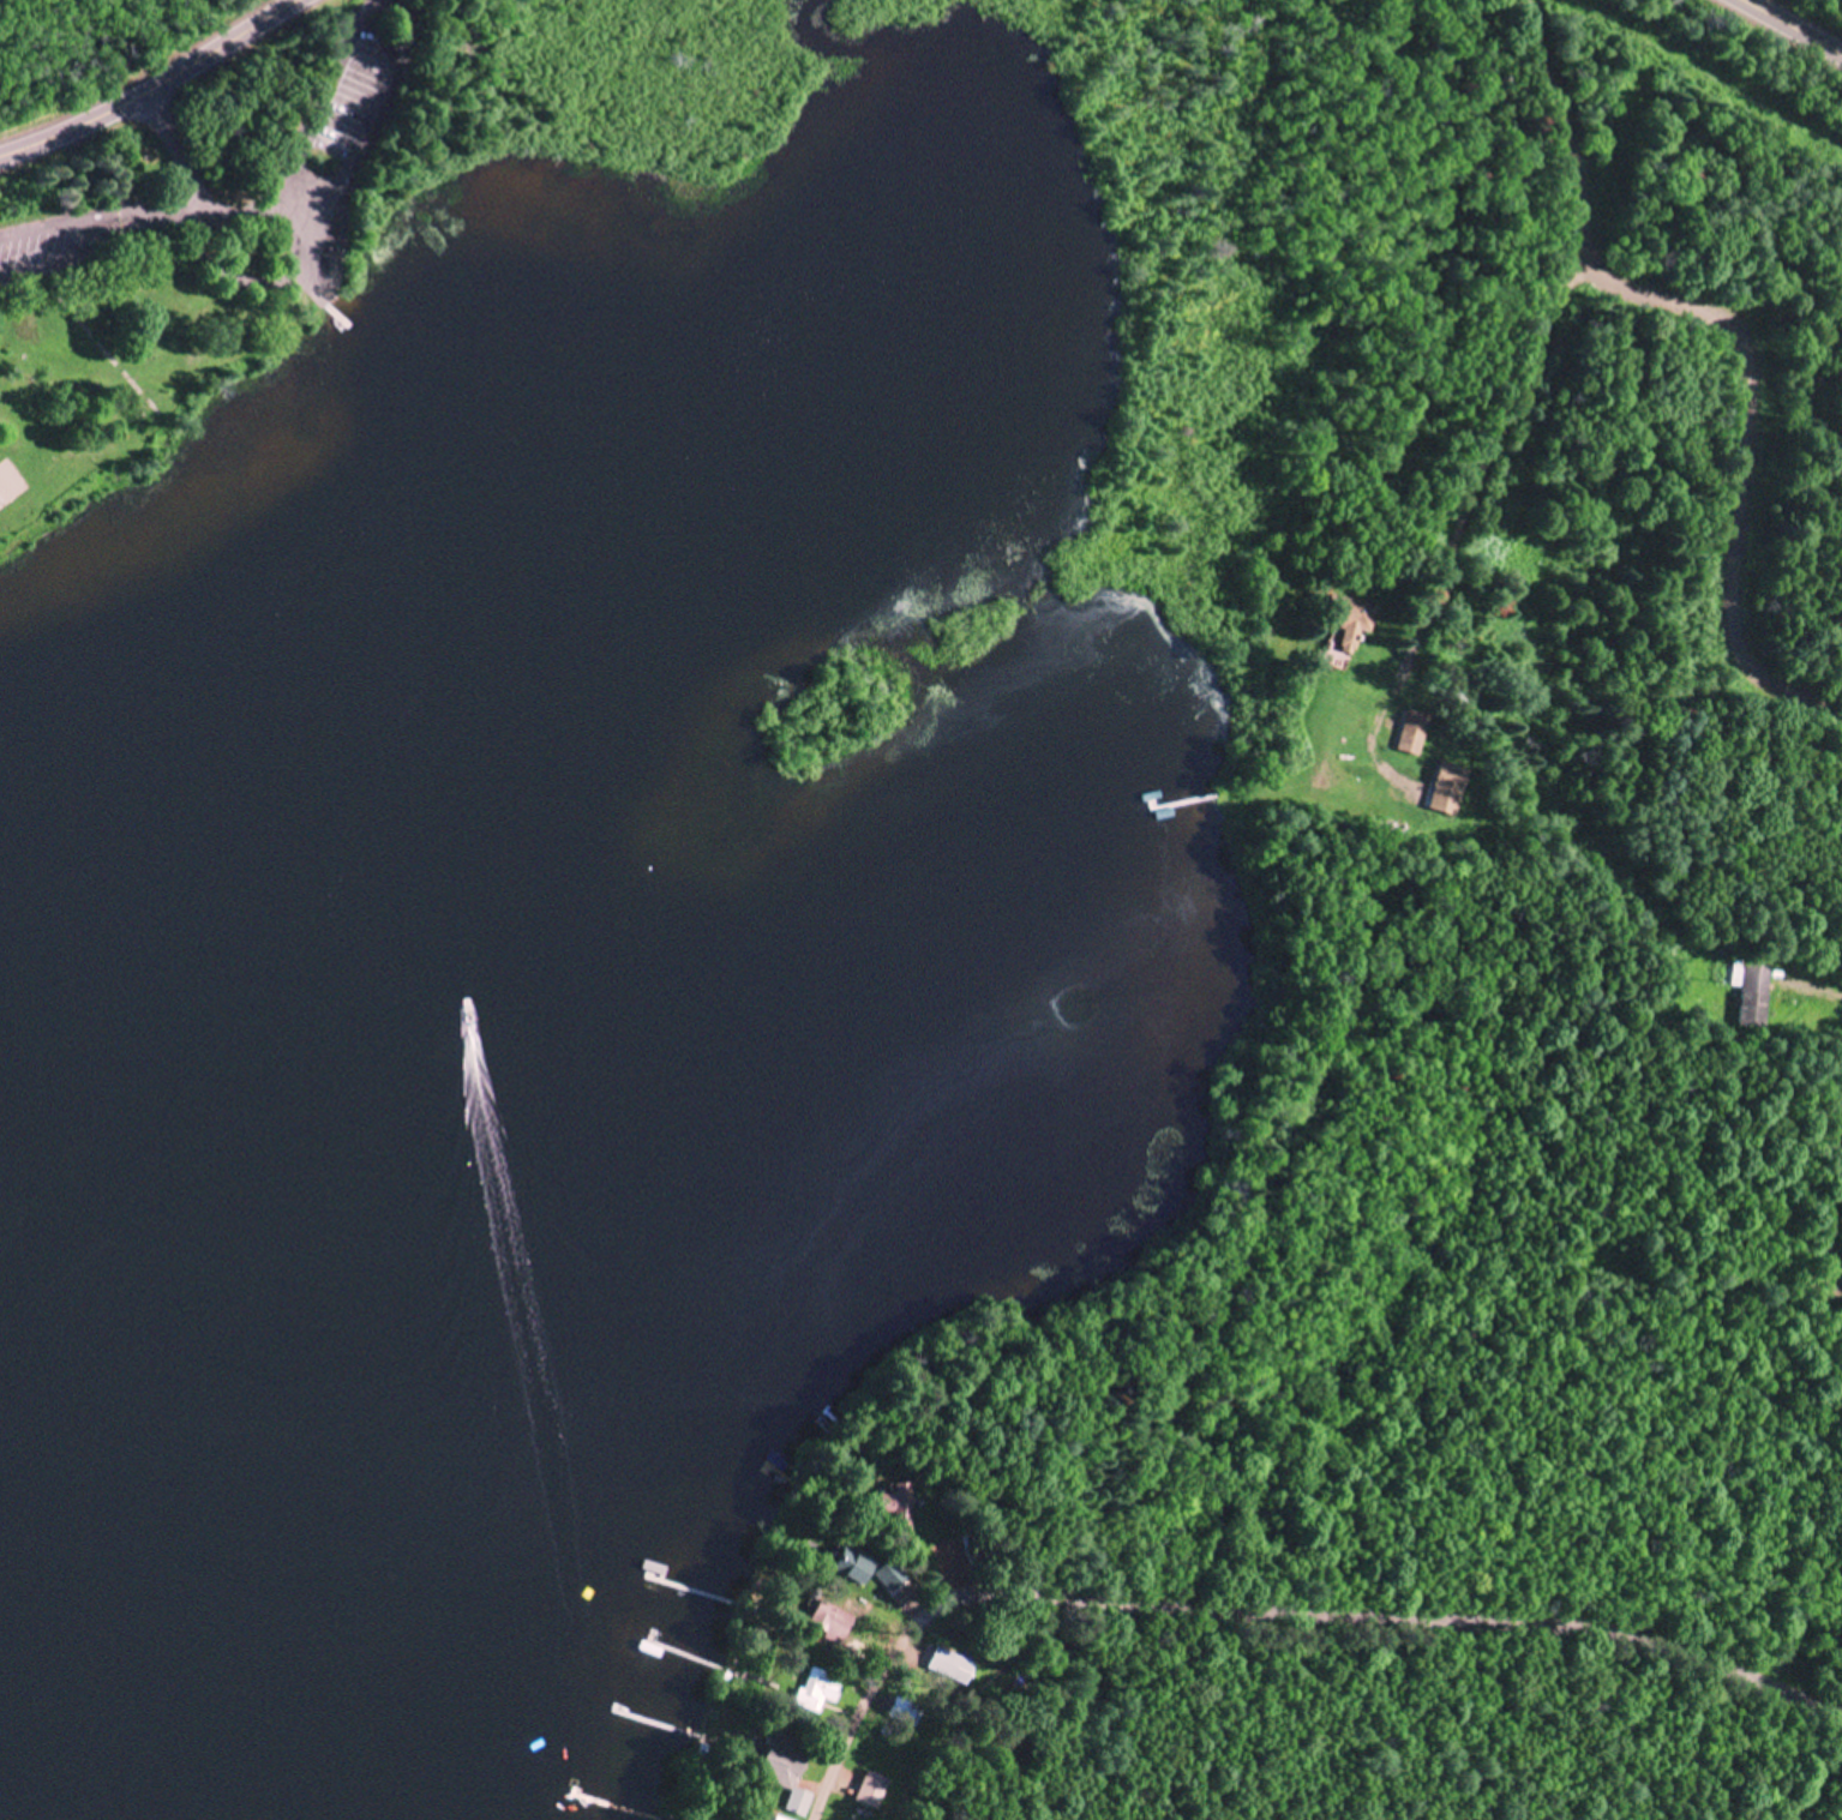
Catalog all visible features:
road: (1792, 28)
road: (154, 86)
road: (1580, 301)
road: (1454, 471)
park: (11, 482)
building: (1356, 621)
building: (1414, 729)
building: (1751, 975)
building: (902, 1507)
building: (871, 1573)
road: (1274, 1604)
building: (832, 1623)
building: (948, 1668)
building: (820, 1692)
building: (901, 1713)
building: (790, 1774)
building: (871, 1792)
building: (778, 1819)

